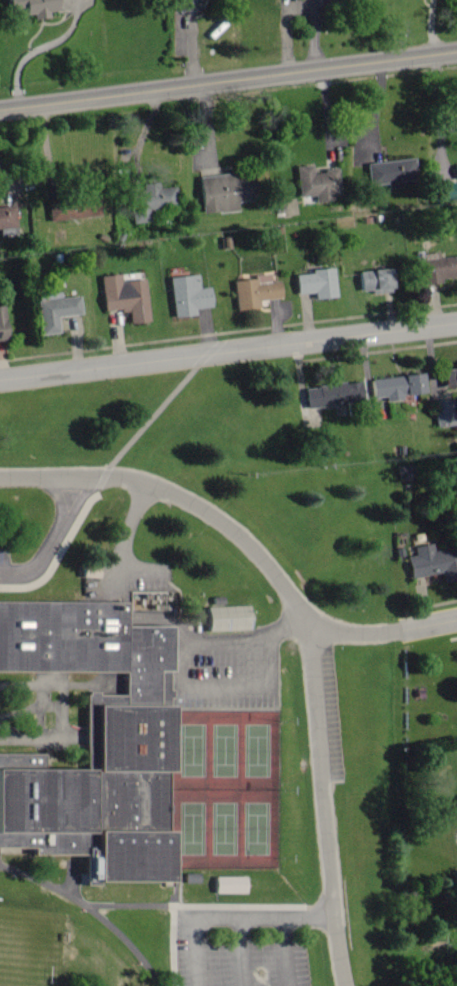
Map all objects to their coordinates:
building: (186, 5)
building: (33, 7)
road: (228, 75)
building: (455, 171)
building: (389, 172)
building: (316, 182)
building: (221, 191)
building: (442, 192)
building: (150, 201)
building: (72, 207)
building: (22, 214)
building: (6, 217)
building: (436, 267)
building: (374, 280)
building: (315, 283)
building: (253, 291)
building: (186, 295)
building: (123, 296)
building: (54, 310)
building: (0, 326)
road: (228, 351)
building: (455, 374)
building: (394, 386)
building: (331, 394)
building: (443, 412)
road: (151, 413)
road: (127, 532)
road: (56, 540)
building: (432, 562)
road: (169, 585)
building: (226, 615)
road: (306, 622)
road: (384, 629)
road: (229, 639)
road: (255, 678)
building: (91, 744)
park: (224, 786)
building: (228, 885)
road: (93, 908)
road: (235, 917)
road: (241, 951)
road: (287, 951)

